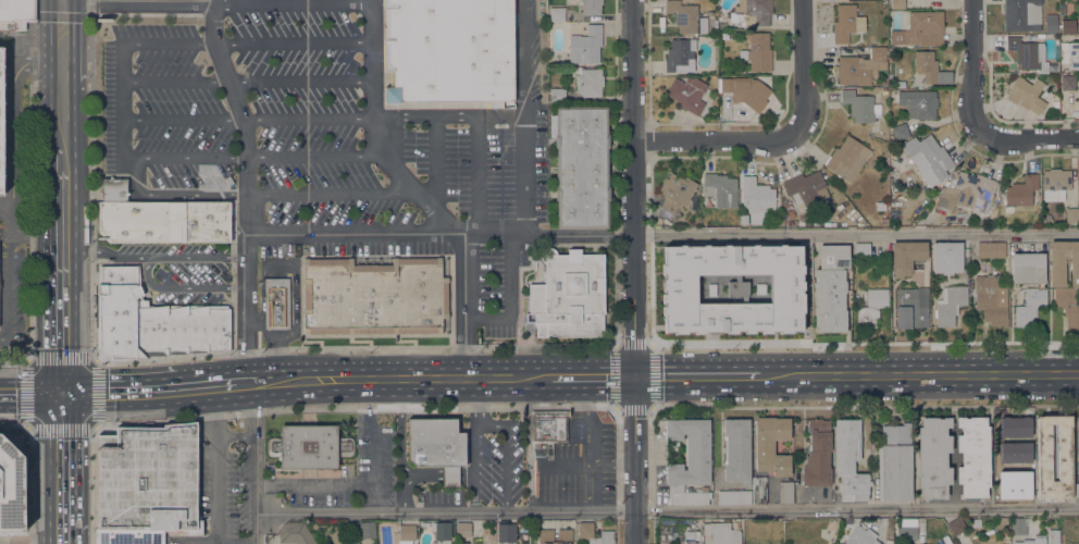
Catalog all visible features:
road: (61, 0)
road: (144, 0)
building: (897, 4)
building: (587, 5)
building: (29, 11)
building: (752, 12)
building: (12, 14)
building: (556, 14)
building: (1020, 14)
road: (61, 16)
building: (685, 18)
building: (846, 23)
building: (1051, 23)
building: (715, 24)
building: (1068, 26)
building: (920, 29)
building: (1077, 34)
building: (724, 36)
building: (1040, 36)
road: (292, 37)
road: (168, 44)
building: (586, 45)
building: (448, 50)
building: (757, 52)
building: (679, 53)
building: (1028, 53)
building: (1069, 54)
road: (804, 67)
building: (861, 67)
road: (975, 67)
building: (930, 69)
road: (47, 71)
road: (298, 79)
road: (173, 81)
building: (587, 82)
building: (1067, 82)
building: (901, 84)
building: (745, 90)
building: (883, 90)
building: (687, 94)
building: (1026, 94)
building: (1078, 94)
building: (557, 95)
building: (1078, 99)
road: (121, 102)
building: (918, 102)
building: (1055, 103)
building: (860, 106)
road: (306, 115)
road: (446, 118)
building: (1, 120)
road: (181, 120)
building: (901, 132)
road: (371, 134)
road: (1030, 139)
road: (715, 140)
road: (11, 151)
road: (313, 152)
road: (47, 156)
road: (184, 158)
building: (846, 158)
building: (928, 158)
road: (436, 162)
building: (581, 166)
road: (479, 175)
road: (29, 178)
road: (91, 180)
road: (523, 184)
building: (1055, 184)
road: (245, 188)
building: (114, 189)
building: (720, 189)
building: (805, 189)
building: (1021, 190)
building: (675, 191)
road: (173, 194)
road: (335, 194)
building: (967, 194)
building: (756, 196)
road: (77, 198)
road: (5, 203)
building: (786, 205)
building: (791, 213)
building: (1071, 214)
building: (163, 221)
building: (658, 221)
road: (425, 232)
road: (4, 233)
road: (488, 233)
road: (855, 233)
road: (574, 234)
building: (991, 249)
building: (861, 250)
building: (681, 251)
building: (704, 251)
building: (760, 251)
building: (785, 251)
road: (161, 256)
building: (906, 257)
building: (946, 257)
building: (1028, 268)
railway: (62, 272)
road: (632, 272)
building: (1057, 272)
road: (46, 283)
road: (8, 285)
building: (830, 289)
building: (375, 295)
building: (569, 295)
building: (991, 299)
building: (715, 302)
building: (276, 304)
building: (950, 305)
building: (793, 306)
building: (871, 306)
building: (675, 307)
building: (1029, 307)
building: (911, 308)
building: (755, 309)
building: (152, 321)
road: (865, 342)
road: (356, 347)
road: (27, 358)
road: (13, 362)
road: (1053, 374)
road: (419, 375)
road: (894, 375)
road: (593, 376)
traffic signals: (633, 376)
road: (697, 376)
road: (266, 381)
road: (239, 384)
road: (153, 392)
road: (22, 396)
traffic signals: (46, 396)
road: (61, 396)
traffic signals: (76, 396)
road: (357, 406)
road: (866, 406)
road: (652, 407)
road: (586, 418)
road: (14, 423)
building: (547, 426)
road: (237, 436)
building: (1014, 440)
road: (528, 444)
building: (771, 445)
building: (309, 446)
building: (436, 446)
building: (1077, 447)
building: (736, 449)
building: (1043, 453)
building: (817, 454)
building: (933, 457)
building: (972, 457)
building: (689, 460)
building: (849, 460)
road: (259, 462)
road: (587, 462)
building: (894, 462)
road: (214, 465)
road: (75, 469)
road: (46, 470)
road: (619, 475)
road: (653, 475)
building: (148, 479)
building: (1007, 482)
road: (30, 484)
road: (91, 484)
building: (11, 487)
building: (759, 490)
building: (1077, 490)
building: (785, 492)
building: (1029, 493)
building: (733, 497)
road: (669, 509)
building: (1018, 524)
building: (955, 527)
building: (367, 529)
building: (463, 530)
building: (906, 530)
building: (442, 531)
building: (407, 532)
building: (295, 533)
building: (506, 533)
building: (722, 533)
building: (585, 534)
building: (546, 535)
building: (129, 536)
building: (861, 536)
building: (1054, 536)
building: (1033, 541)
road: (23, 542)
building: (355, 543)
building: (462, 543)

